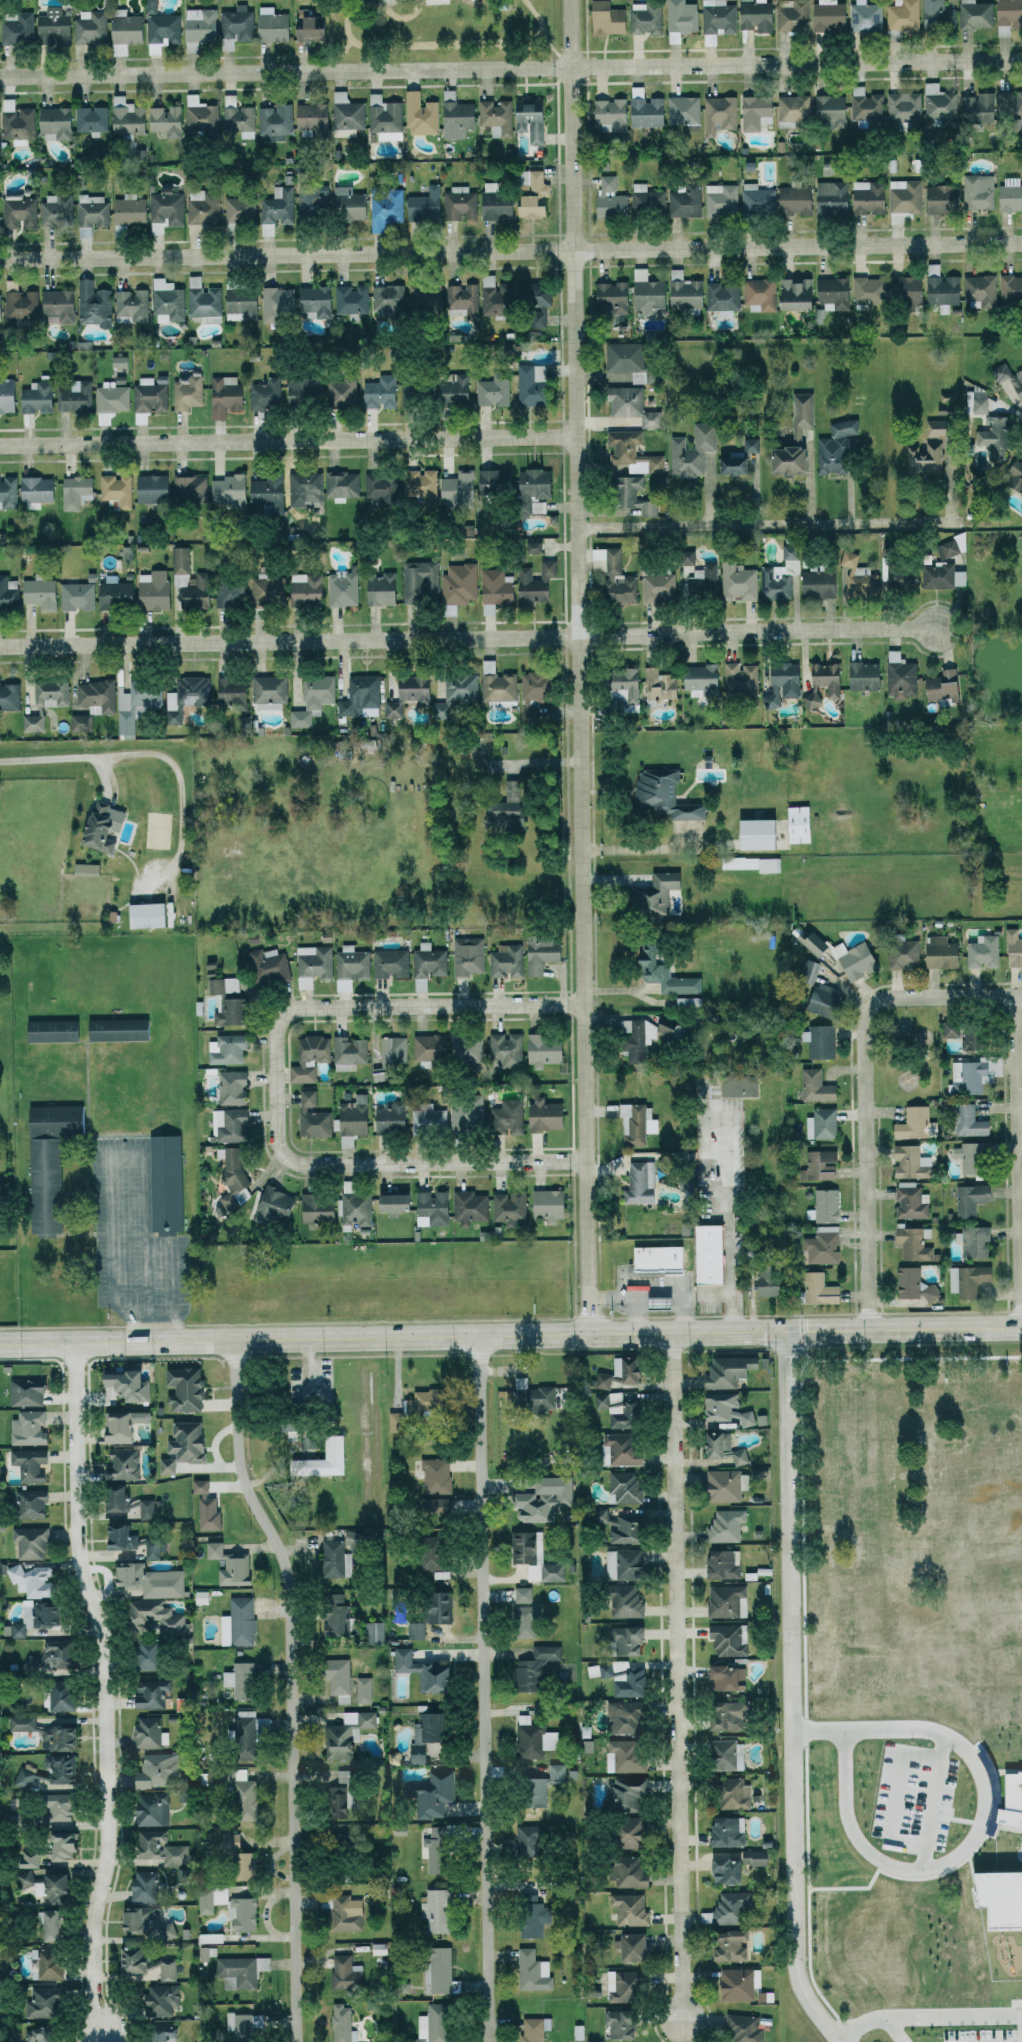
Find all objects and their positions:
building: (935, 14)
building: (974, 14)
building: (901, 15)
building: (1007, 15)
building: (752, 16)
building: (825, 16)
building: (863, 16)
building: (677, 17)
building: (715, 17)
building: (603, 18)
building: (642, 18)
building: (201, 24)
building: (56, 25)
building: (237, 25)
building: (270, 25)
building: (18, 27)
building: (91, 27)
building: (307, 28)
building: (128, 29)
road: (511, 69)
building: (865, 104)
building: (938, 104)
building: (903, 107)
building: (791, 108)
building: (975, 108)
building: (1009, 108)
building: (643, 109)
building: (828, 110)
building: (683, 111)
building: (753, 112)
building: (608, 113)
building: (419, 114)
building: (718, 114)
building: (310, 115)
building: (346, 115)
building: (201, 116)
building: (493, 116)
building: (130, 117)
building: (93, 118)
building: (455, 118)
building: (527, 118)
building: (168, 120)
building: (240, 120)
building: (19, 121)
building: (275, 122)
building: (58, 123)
building: (0, 128)
building: (976, 191)
building: (529, 194)
building: (1008, 195)
building: (903, 196)
building: (607, 197)
building: (829, 197)
building: (866, 197)
building: (938, 198)
building: (645, 199)
building: (720, 199)
building: (756, 199)
building: (684, 200)
building: (791, 200)
building: (314, 203)
building: (348, 203)
building: (457, 203)
building: (491, 203)
building: (421, 205)
building: (204, 206)
building: (278, 206)
building: (384, 207)
building: (240, 208)
building: (0, 209)
building: (166, 209)
building: (58, 210)
building: (93, 210)
building: (131, 210)
building: (20, 212)
road: (510, 252)
building: (1009, 287)
building: (938, 288)
building: (681, 290)
building: (866, 290)
building: (903, 291)
building: (977, 291)
building: (644, 293)
building: (831, 293)
building: (530, 294)
building: (775, 294)
building: (720, 297)
building: (608, 298)
building: (460, 299)
building: (490, 299)
building: (169, 300)
building: (205, 300)
building: (319, 300)
building: (353, 300)
building: (405, 300)
building: (244, 303)
building: (280, 303)
building: (62, 304)
building: (94, 304)
building: (23, 305)
building: (133, 305)
building: (1, 306)
building: (535, 318)
building: (622, 359)
building: (121, 361)
building: (1009, 379)
building: (449, 387)
building: (424, 389)
building: (305, 390)
building: (489, 391)
building: (189, 392)
building: (383, 392)
building: (343, 393)
building: (267, 394)
building: (8, 395)
building: (151, 395)
building: (114, 396)
building: (77, 397)
building: (39, 398)
building: (227, 398)
building: (974, 402)
building: (626, 404)
building: (143, 417)
building: (930, 428)
building: (990, 436)
building: (793, 437)
road: (287, 439)
building: (748, 444)
building: (832, 447)
building: (689, 451)
building: (630, 452)
building: (923, 458)
building: (728, 464)
building: (1013, 473)
building: (490, 480)
building: (418, 483)
building: (343, 485)
building: (192, 487)
building: (378, 487)
building: (453, 487)
building: (154, 488)
building: (118, 490)
building: (233, 490)
building: (9, 491)
building: (39, 491)
building: (77, 491)
building: (529, 491)
building: (270, 493)
building: (627, 495)
road: (768, 525)
building: (949, 546)
building: (530, 547)
building: (684, 557)
building: (778, 575)
building: (611, 576)
building: (939, 576)
building: (856, 577)
building: (899, 577)
building: (182, 578)
building: (419, 581)
building: (700, 581)
building: (532, 582)
building: (735, 582)
building: (814, 582)
building: (455, 586)
building: (491, 586)
building: (656, 587)
building: (309, 588)
building: (345, 588)
building: (384, 589)
building: (156, 590)
building: (269, 591)
building: (42, 592)
building: (117, 593)
building: (232, 593)
building: (8, 594)
building: (78, 595)
building: (486, 609)
road: (468, 637)
road: (576, 667)
building: (897, 675)
building: (860, 676)
building: (697, 679)
building: (739, 680)
building: (779, 683)
building: (820, 683)
building: (494, 685)
building: (655, 685)
building: (939, 686)
building: (457, 687)
building: (618, 688)
building: (417, 689)
building: (234, 691)
building: (272, 691)
building: (52, 692)
building: (362, 694)
building: (528, 694)
building: (10, 696)
building: (98, 696)
building: (189, 696)
building: (315, 698)
building: (141, 703)
building: (396, 708)
building: (34, 723)
building: (83, 723)
road: (67, 756)
road: (534, 761)
building: (661, 794)
building: (503, 807)
building: (796, 824)
building: (106, 827)
building: (751, 834)
road: (638, 849)
building: (767, 864)
building: (88, 869)
building: (651, 893)
building: (151, 915)
building: (812, 942)
building: (1011, 948)
building: (937, 951)
building: (980, 951)
building: (538, 953)
building: (900, 955)
building: (469, 956)
building: (850, 958)
building: (504, 960)
building: (353, 963)
building: (392, 963)
building: (314, 964)
building: (270, 965)
building: (806, 970)
building: (659, 972)
building: (819, 998)
building: (683, 1001)
building: (230, 1003)
road: (395, 1006)
building: (121, 1029)
building: (643, 1033)
building: (962, 1035)
building: (817, 1040)
building: (427, 1046)
building: (465, 1048)
building: (503, 1048)
building: (229, 1049)
building: (391, 1049)
building: (539, 1050)
building: (350, 1052)
building: (311, 1058)
building: (971, 1074)
building: (734, 1085)
building: (813, 1085)
road: (864, 1085)
building: (234, 1087)
building: (464, 1111)
building: (541, 1114)
building: (313, 1115)
building: (350, 1115)
building: (504, 1116)
building: (386, 1117)
building: (425, 1117)
building: (966, 1121)
building: (629, 1123)
building: (819, 1123)
building: (911, 1123)
building: (233, 1125)
road: (116, 1155)
building: (967, 1157)
building: (908, 1162)
road: (1017, 1162)
building: (52, 1163)
road: (396, 1164)
building: (816, 1164)
road: (724, 1166)
building: (235, 1175)
building: (637, 1182)
building: (168, 1183)
building: (967, 1198)
building: (909, 1201)
building: (274, 1202)
building: (389, 1202)
building: (545, 1204)
building: (823, 1205)
building: (506, 1206)
building: (466, 1207)
building: (314, 1208)
building: (428, 1208)
building: (353, 1209)
building: (973, 1240)
building: (911, 1242)
building: (820, 1245)
building: (704, 1253)
building: (646, 1259)
building: (965, 1279)
building: (763, 1281)
building: (911, 1284)
building: (815, 1289)
road: (669, 1290)
road: (706, 1295)
road: (625, 1298)
road: (173, 1301)
building: (652, 1301)
road: (175, 1328)
road: (935, 1328)
road: (816, 1330)
road: (750, 1331)
road: (359, 1337)
building: (621, 1369)
building: (724, 1371)
building: (600, 1380)
building: (130, 1384)
building: (187, 1388)
building: (29, 1391)
building: (529, 1395)
building: (416, 1404)
building: (722, 1408)
building: (282, 1423)
building: (126, 1425)
building: (30, 1427)
building: (190, 1441)
building: (718, 1447)
building: (616, 1449)
building: (317, 1459)
building: (31, 1463)
building: (980, 1463)
building: (124, 1464)
building: (169, 1465)
building: (433, 1475)
building: (719, 1485)
building: (621, 1486)
building: (120, 1498)
building: (540, 1498)
building: (32, 1502)
building: (208, 1505)
building: (432, 1506)
building: (148, 1509)
building: (600, 1517)
building: (723, 1525)
building: (622, 1529)
building: (124, 1536)
building: (32, 1542)
building: (153, 1547)
building: (531, 1557)
building: (329, 1558)
building: (424, 1559)
building: (620, 1563)
building: (719, 1563)
building: (232, 1565)
building: (153, 1579)
building: (33, 1580)
building: (520, 1594)
building: (621, 1600)
building: (722, 1600)
building: (890, 1602)
building: (433, 1607)
building: (968, 1614)
building: (332, 1615)
building: (49, 1616)
building: (157, 1616)
building: (522, 1619)
building: (240, 1621)
building: (16, 1629)
building: (413, 1630)
building: (371, 1631)
building: (725, 1639)
building: (59, 1654)
building: (151, 1654)
building: (734, 1662)
building: (532, 1668)
building: (418, 1670)
building: (722, 1676)
building: (335, 1677)
building: (617, 1677)
road: (678, 1677)
building: (243, 1679)
road: (287, 1685)
road: (105, 1687)
building: (361, 1689)
road: (483, 1689)
road: (789, 1693)
building: (154, 1694)
building: (61, 1695)
building: (723, 1715)
building: (620, 1717)
building: (23, 1722)
building: (248, 1727)
building: (151, 1732)
building: (344, 1734)
building: (421, 1735)
building: (64, 1737)
building: (622, 1755)
building: (723, 1755)
building: (62, 1768)
building: (159, 1769)
building: (924, 1770)
building: (342, 1775)
building: (24, 1777)
building: (537, 1786)
building: (243, 1789)
building: (728, 1792)
building: (623, 1793)
building: (429, 1794)
building: (334, 1803)
building: (1009, 1805)
building: (60, 1807)
building: (154, 1809)
road: (980, 1815)
building: (723, 1830)
building: (623, 1832)
building: (525, 1841)
building: (66, 1844)
building: (163, 1848)
building: (432, 1848)
building: (31, 1858)
building: (750, 1858)
building: (624, 1870)
building: (721, 1870)
building: (26, 1877)
building: (147, 1886)
building: (60, 1887)
building: (844, 1899)
building: (877, 1900)
building: (206, 1901)
building: (727, 1907)
building: (996, 1907)
building: (239, 1909)
building: (627, 1909)
building: (433, 1910)
building: (527, 1915)
building: (820, 1916)
building: (148, 1922)
building: (56, 1925)
building: (214, 1937)
building: (628, 1946)
building: (209, 1952)
building: (48, 1963)
building: (149, 1964)
building: (434, 1969)
building: (238, 1971)
building: (530, 1971)
building: (342, 1972)
building: (734, 1984)
building: (622, 1985)
building: (163, 1999)
building: (45, 2002)
building: (340, 2023)
building: (617, 2023)
building: (431, 2024)
building: (247, 2025)
building: (742, 2029)
building: (530, 2030)
building: (44, 2034)
building: (165, 2034)

